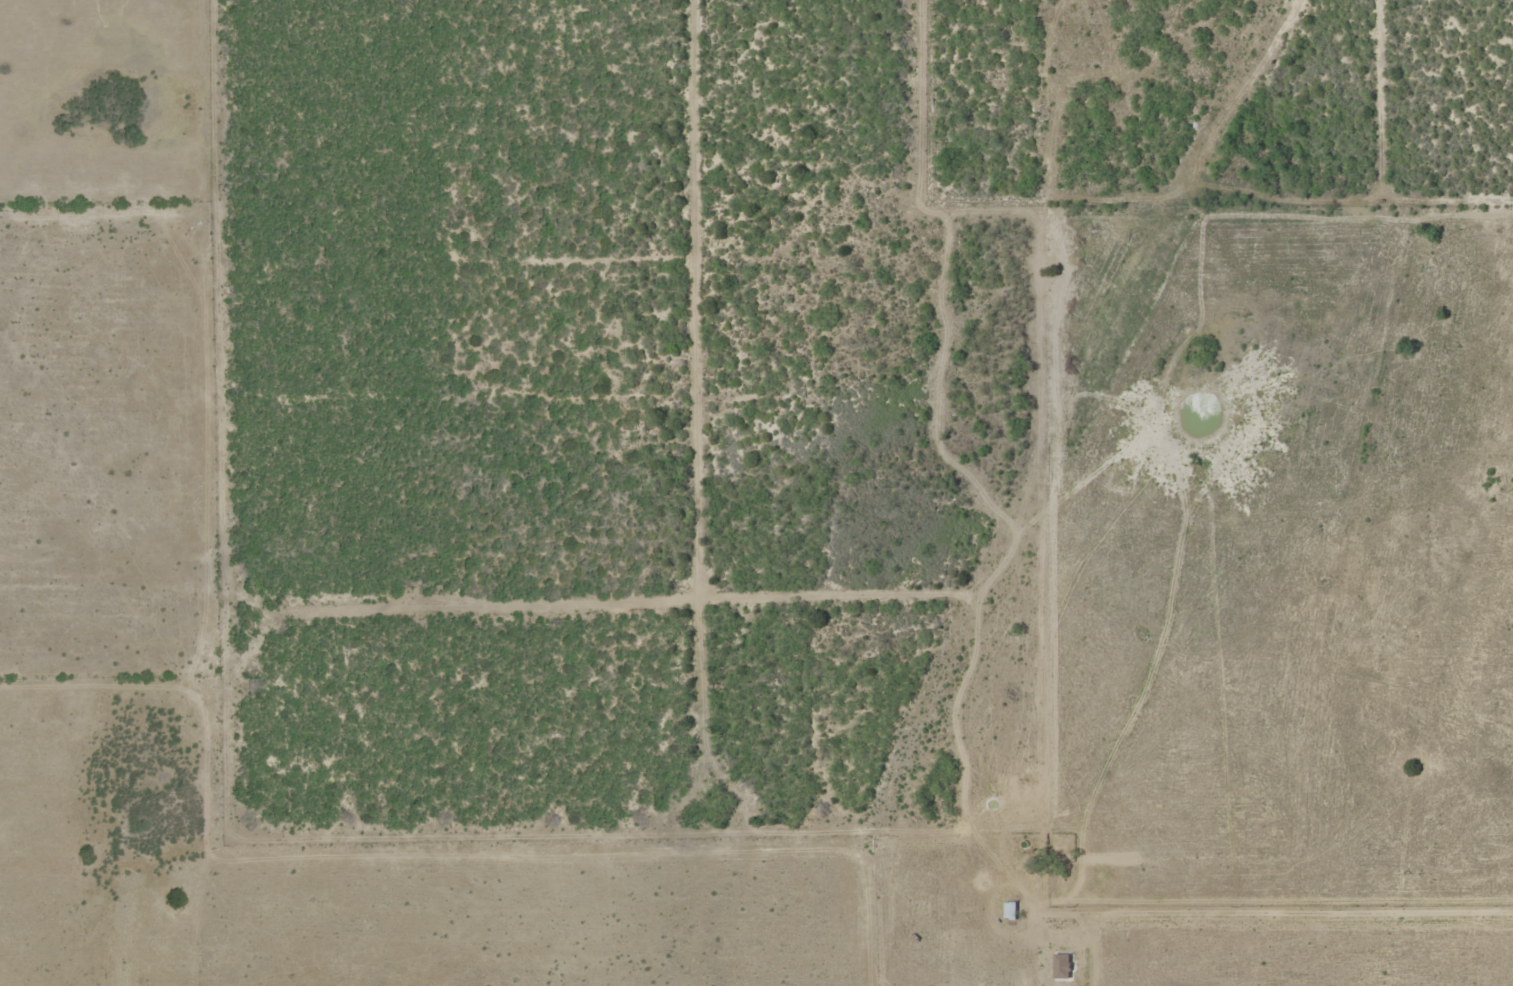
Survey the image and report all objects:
building: (1008, 910)

